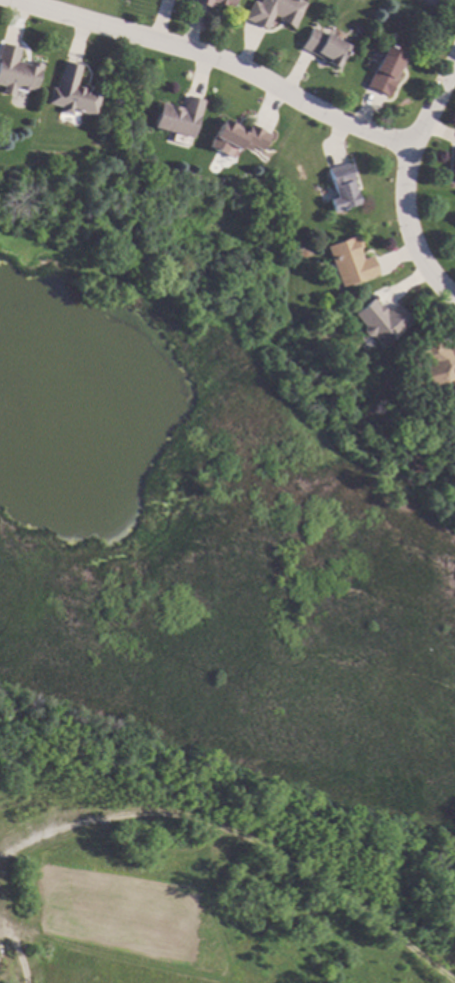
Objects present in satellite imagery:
building: (427, 2)
building: (213, 3)
building: (273, 12)
building: (322, 47)
road: (218, 61)
building: (384, 70)
building: (15, 71)
building: (70, 92)
building: (177, 117)
building: (236, 138)
building: (453, 168)
road: (405, 183)
building: (340, 187)
building: (349, 261)
building: (380, 322)
building: (437, 365)

